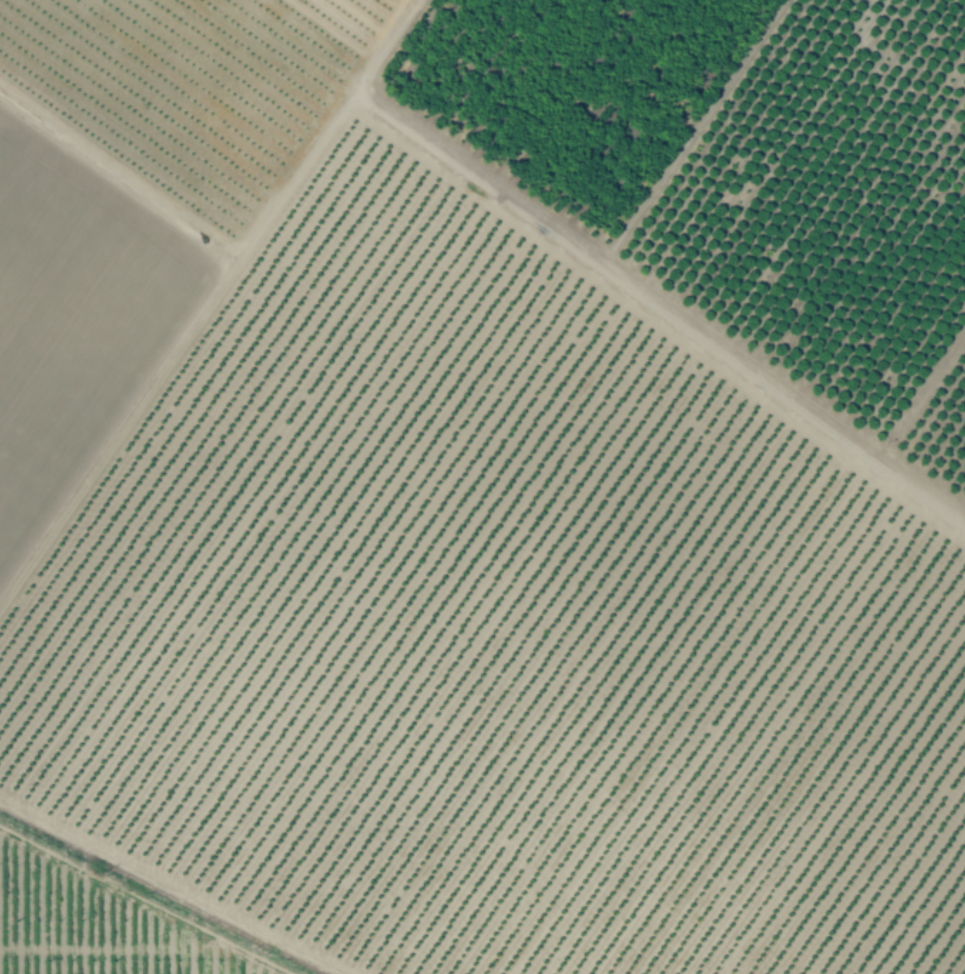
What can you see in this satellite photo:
crop: (138, 195)

